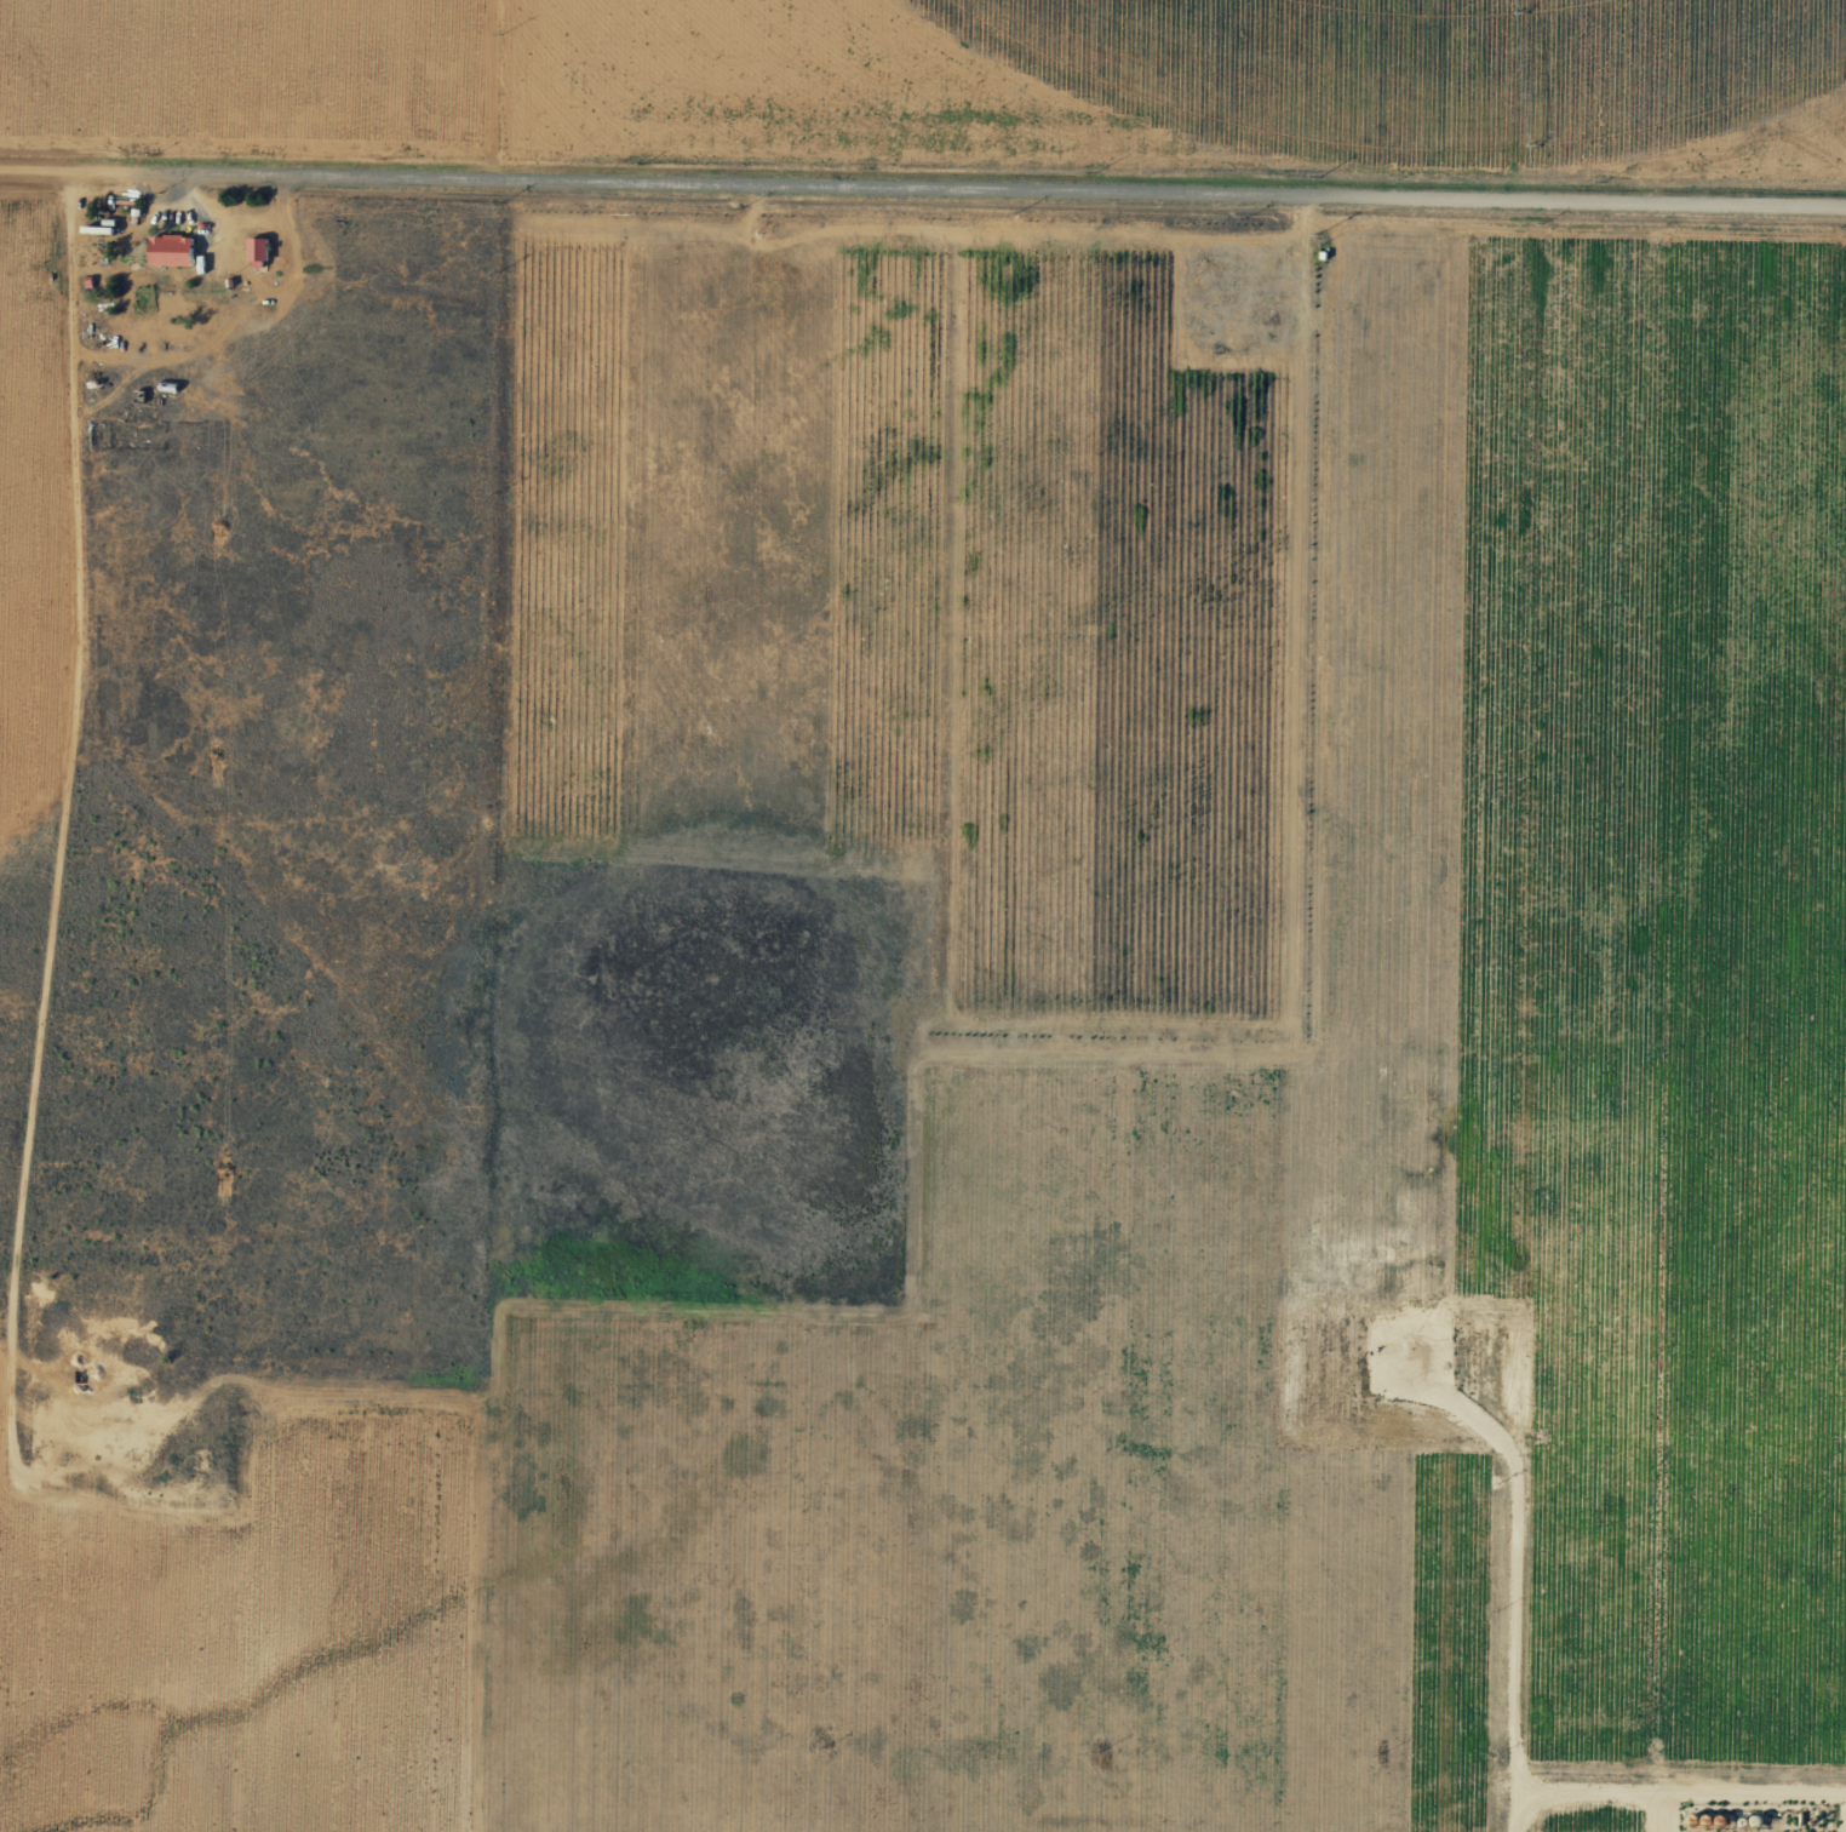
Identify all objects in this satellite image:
road: (492, 104)
road: (923, 218)
building: (171, 250)
road: (1722, 882)
road: (1708, 1688)
road: (1817, 1822)

